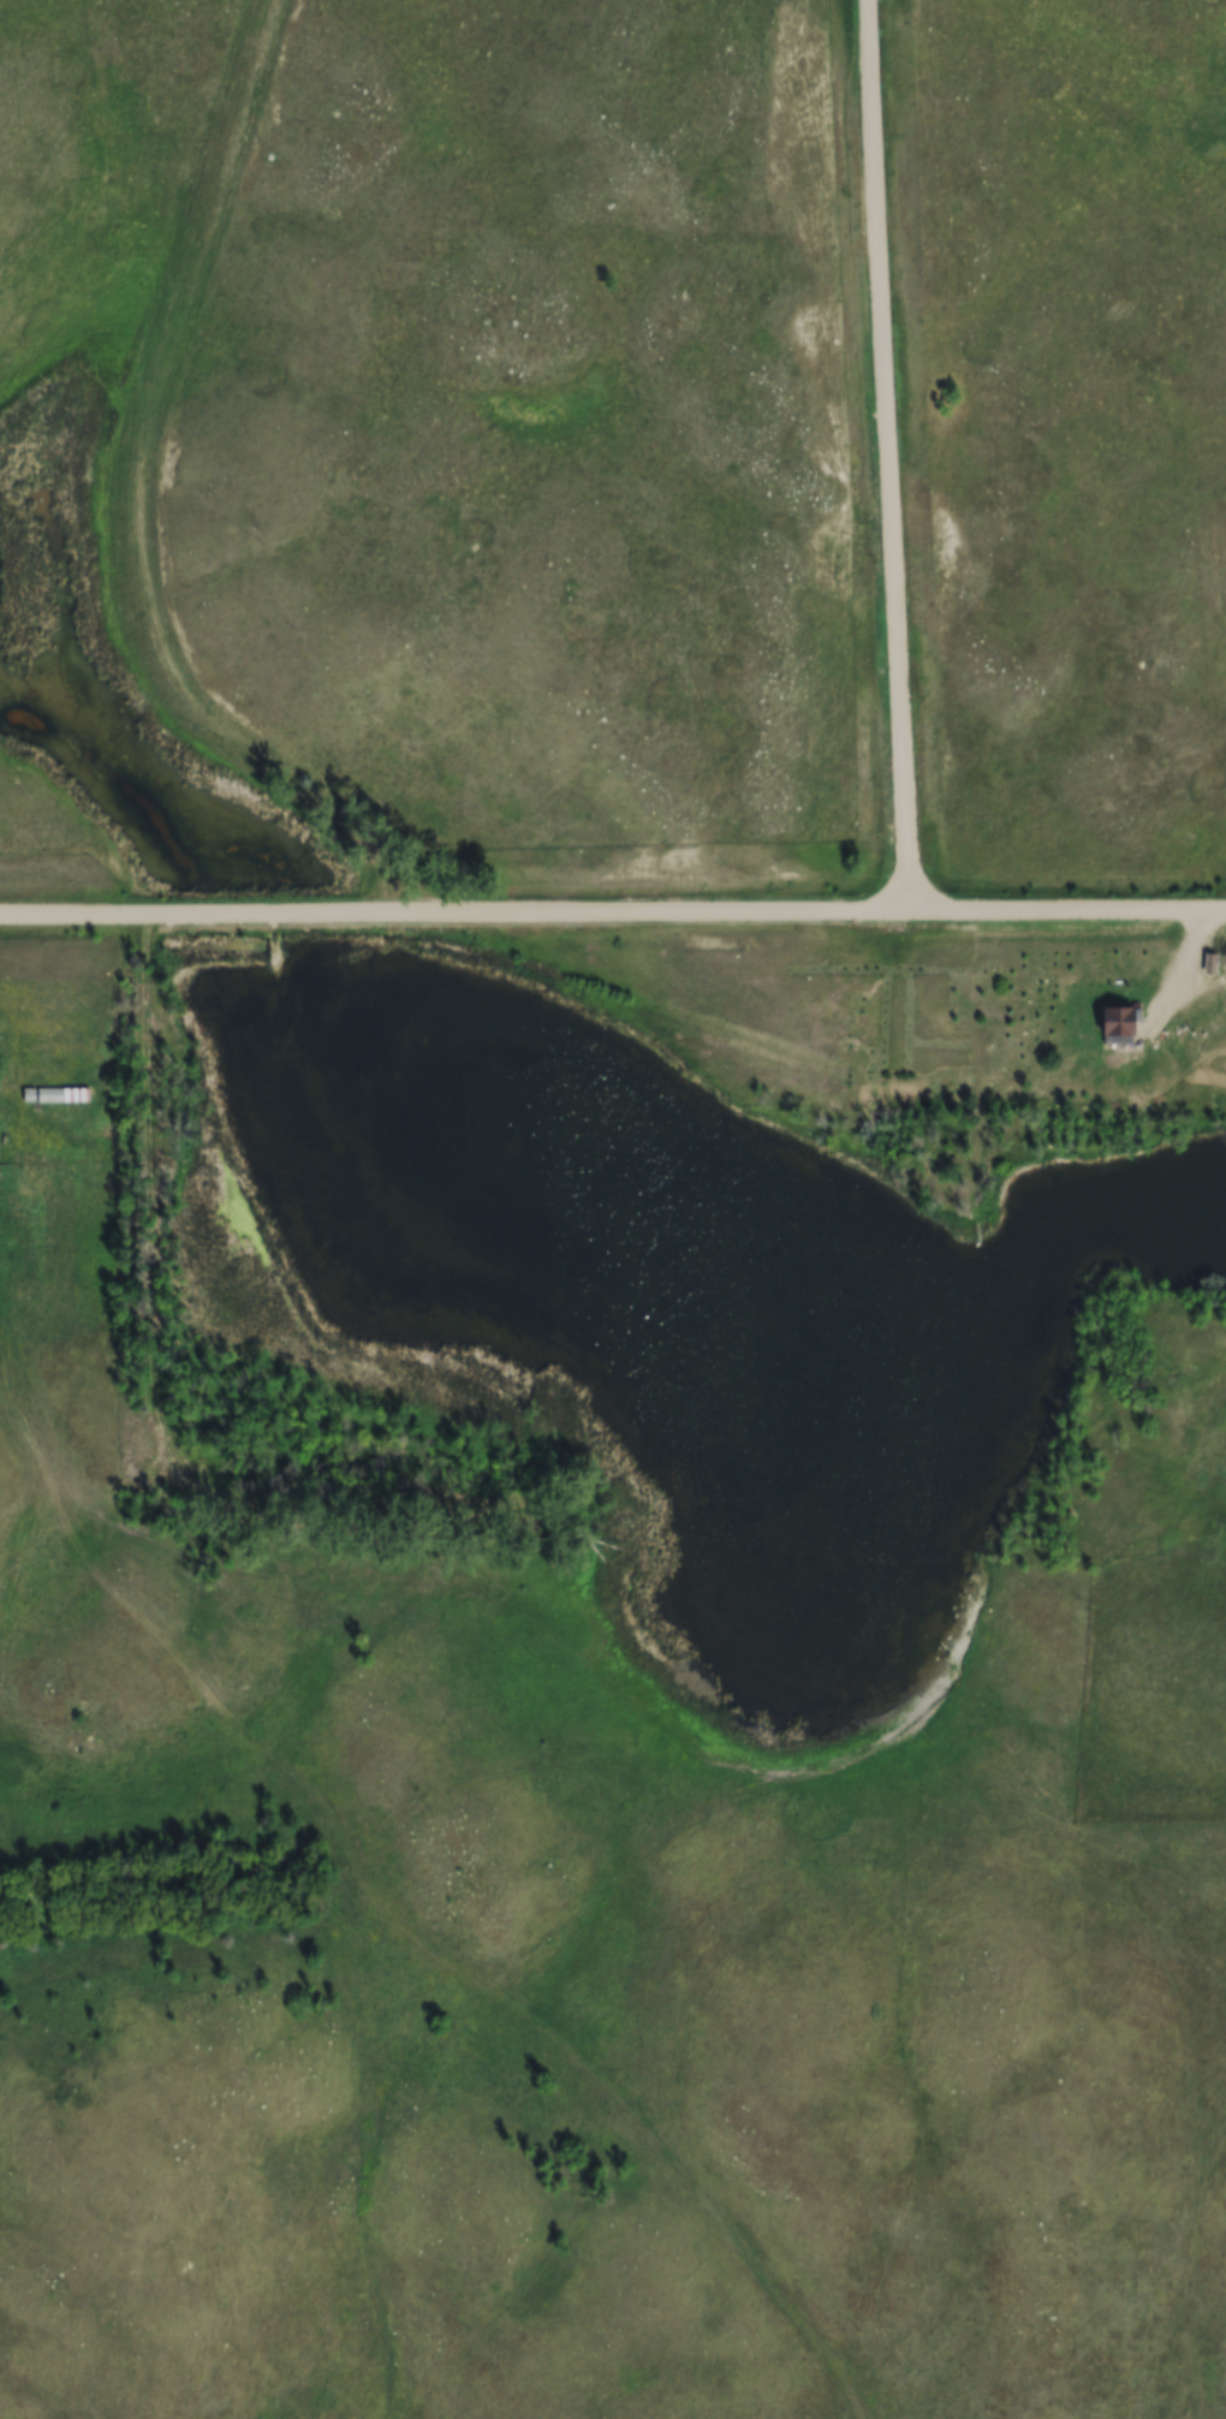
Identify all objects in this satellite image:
road: (892, 452)
road: (613, 914)
road: (1214, 943)
building: (1118, 1028)
building: (55, 1096)
road: (153, 1399)

